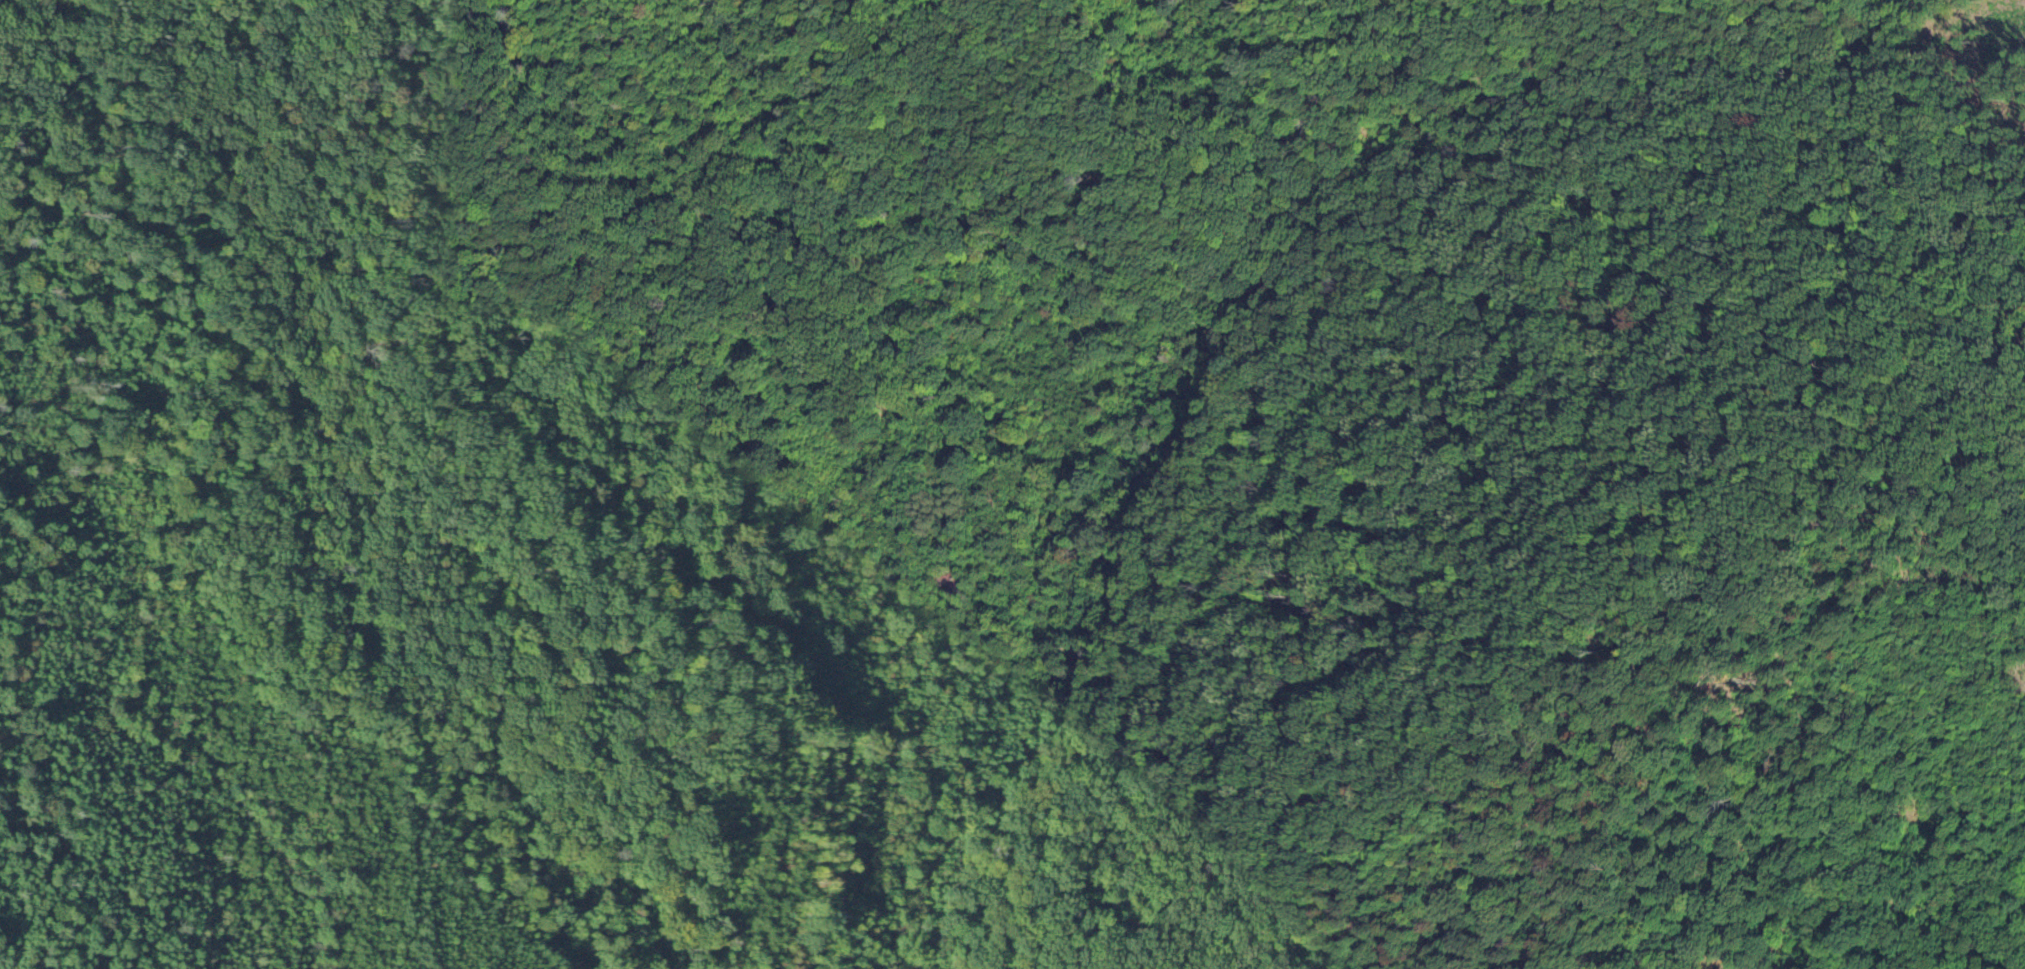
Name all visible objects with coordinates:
road: (1009, 850)

